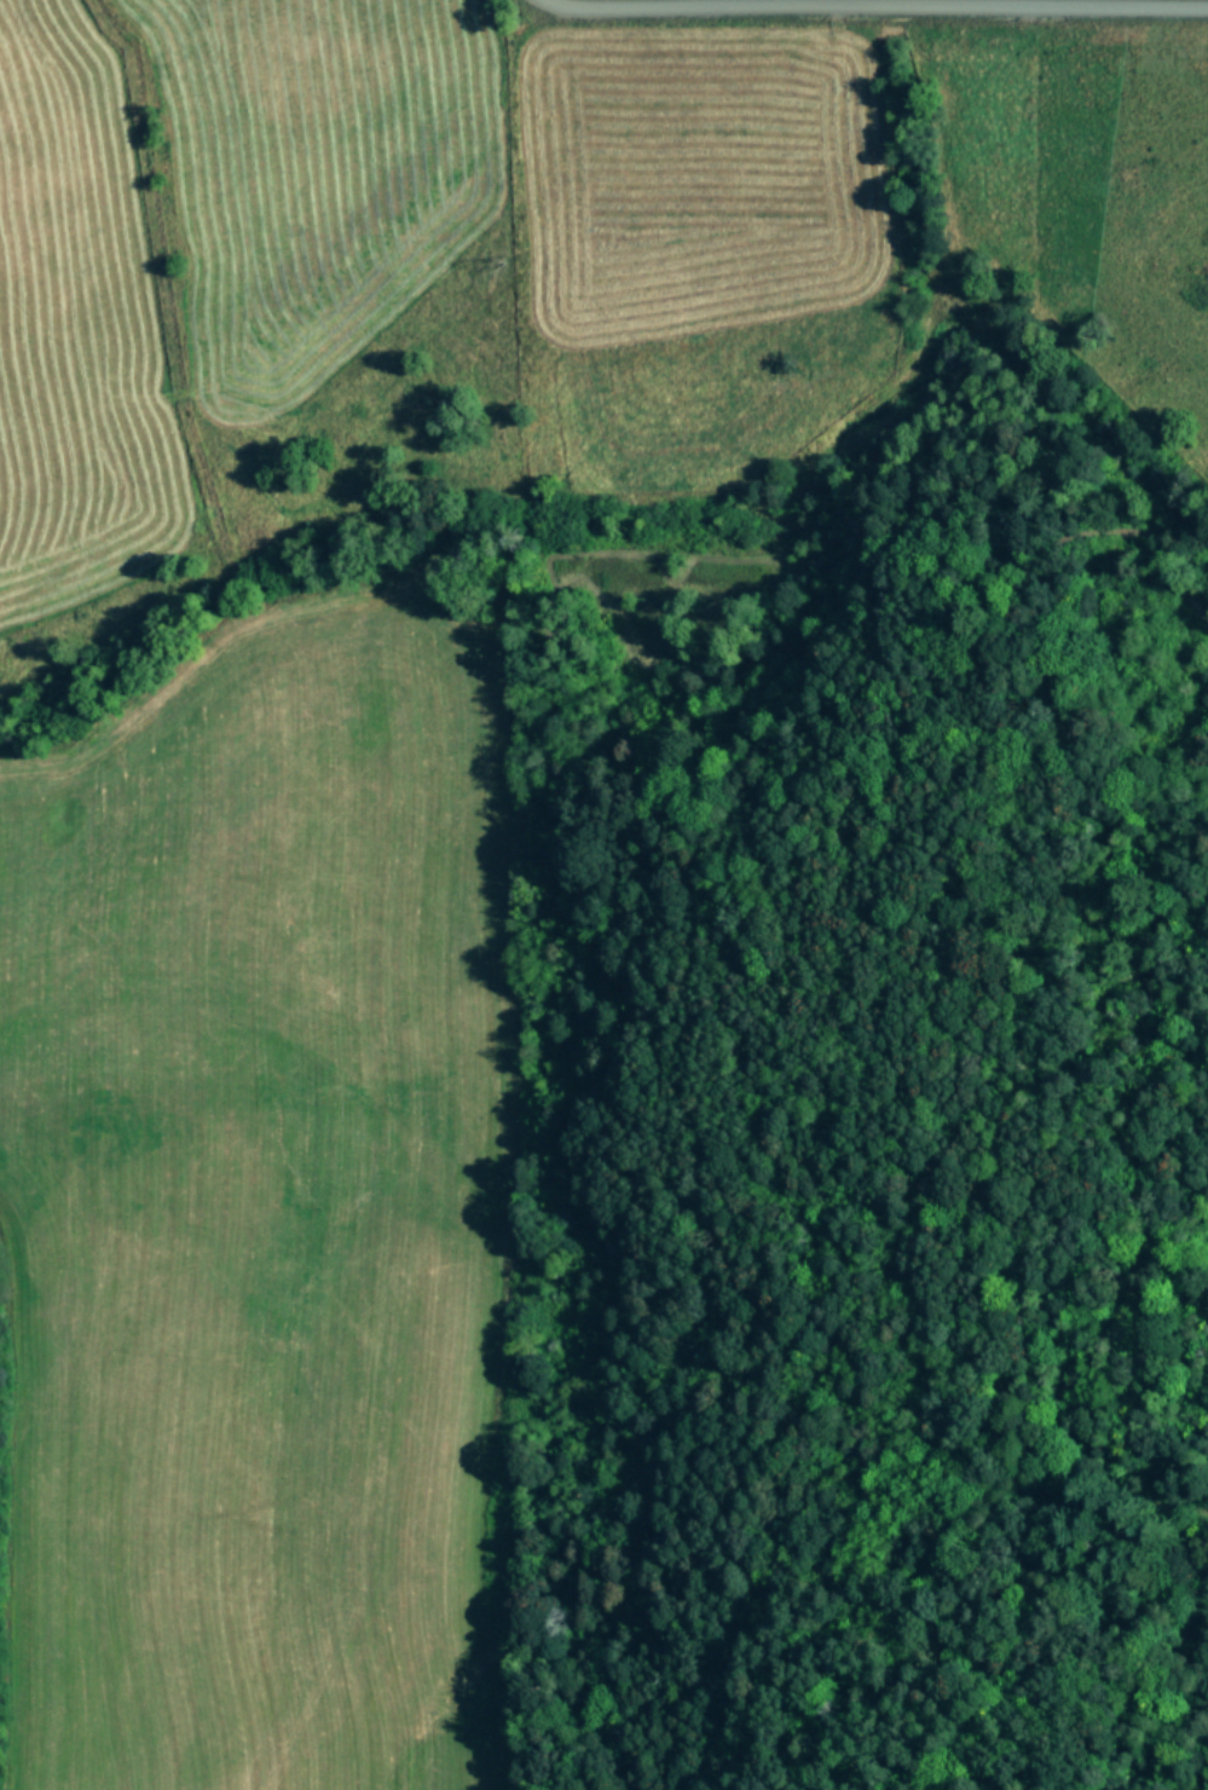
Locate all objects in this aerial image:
road: (871, 5)

